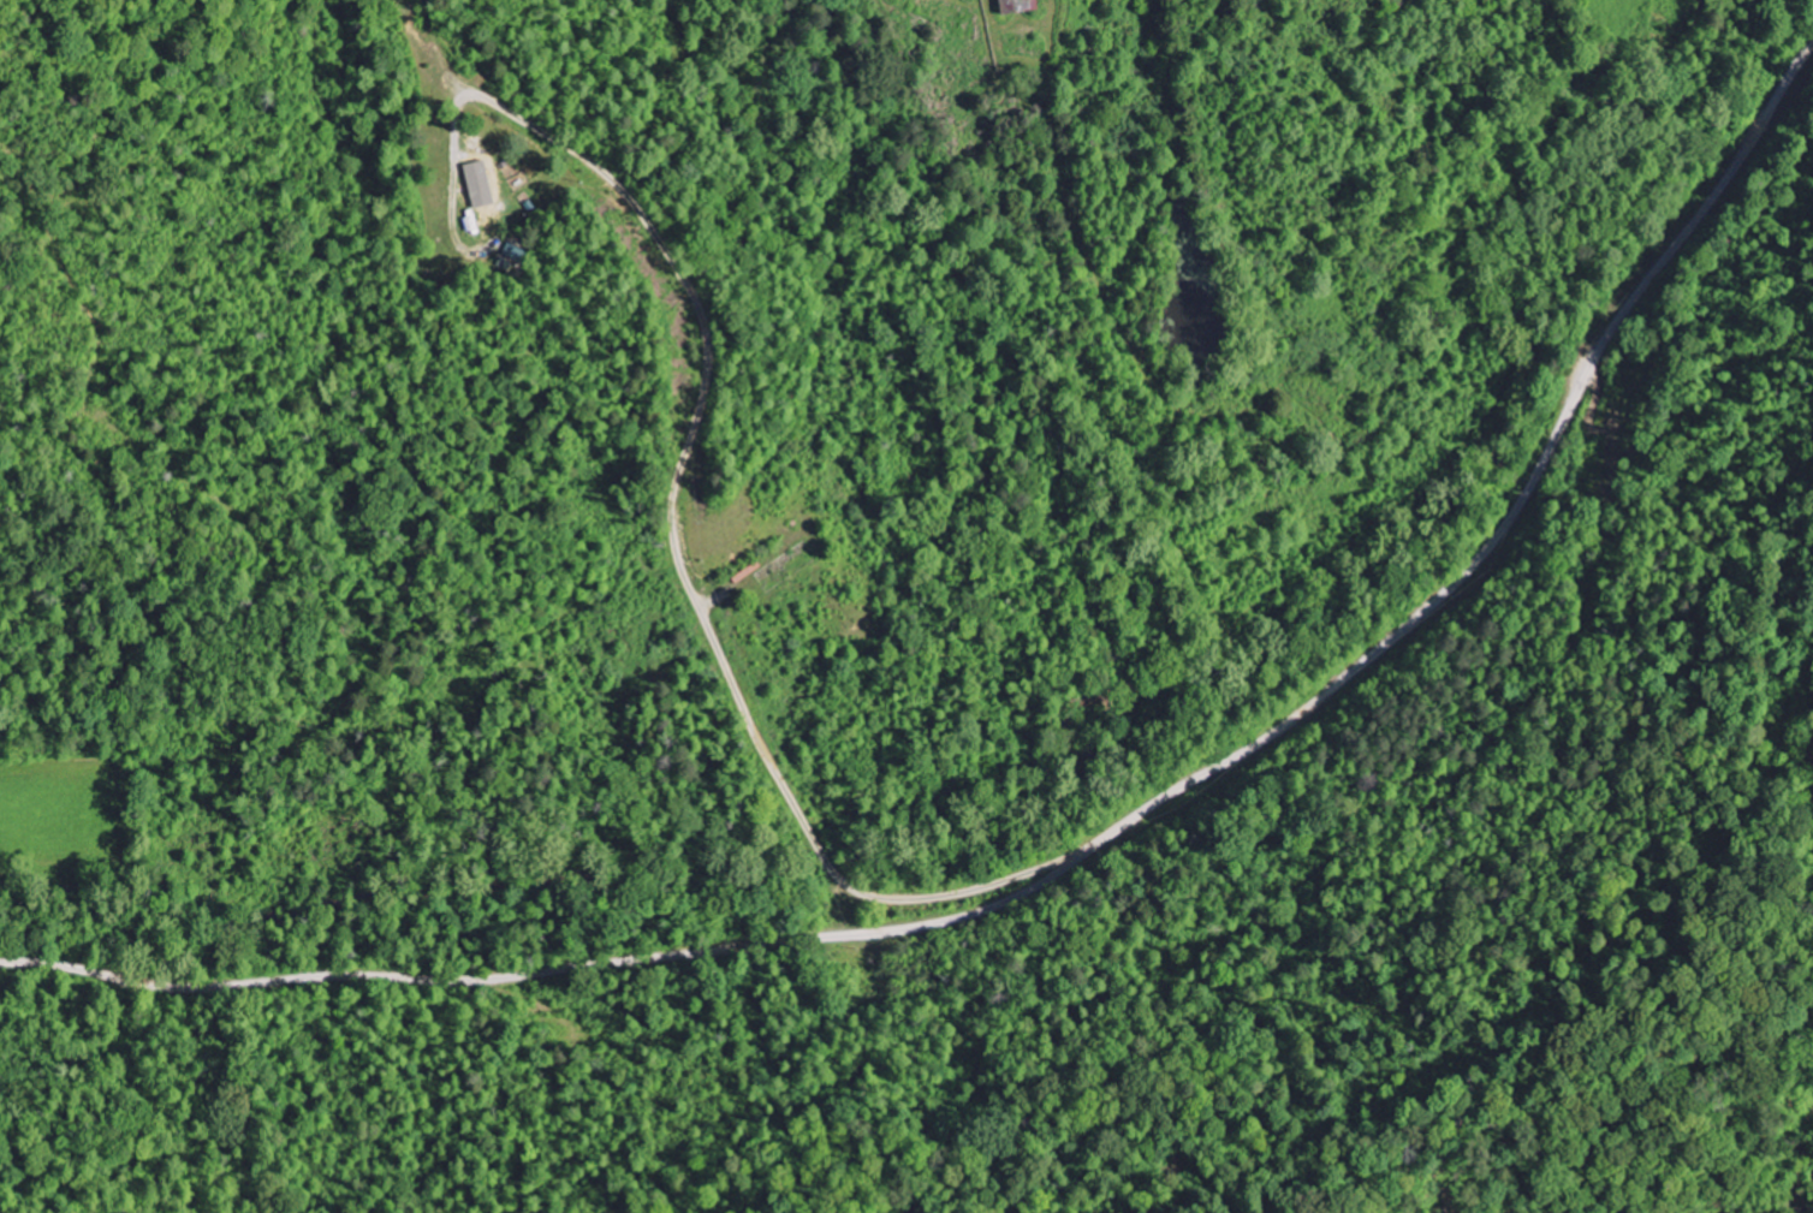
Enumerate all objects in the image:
road: (731, 450)
road: (682, 558)
road: (1081, 854)

